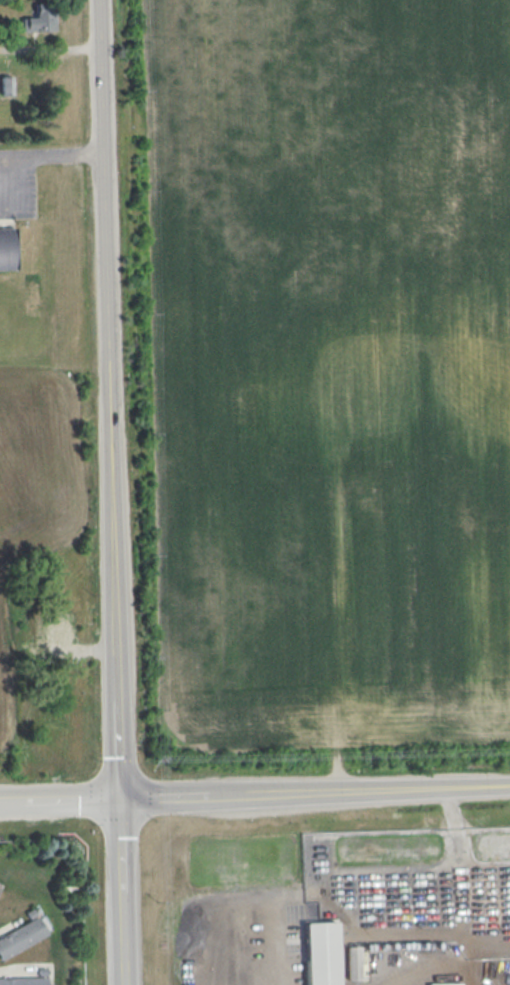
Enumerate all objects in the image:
building: (39, 19)
road: (52, 48)
building: (6, 85)
road: (53, 156)
building: (7, 248)
airport: (41, 302)
road: (116, 492)
road: (359, 790)
road: (164, 796)
traffic signals: (119, 797)
road: (71, 799)
road: (12, 802)
road: (416, 868)
building: (0, 884)
road: (298, 896)
building: (21, 937)
road: (274, 941)
building: (320, 953)
building: (353, 962)
building: (23, 981)

